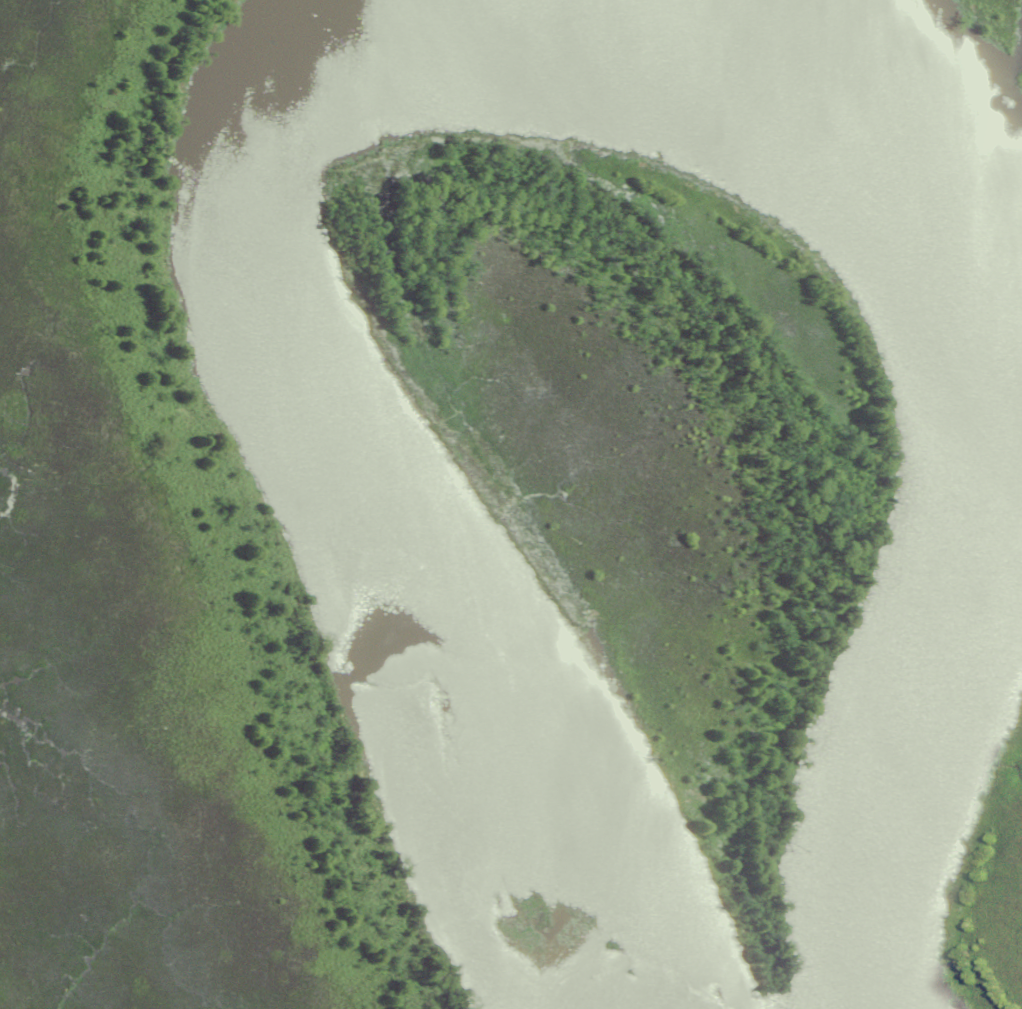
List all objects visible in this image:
river: (983, 457)
river: (321, 462)

